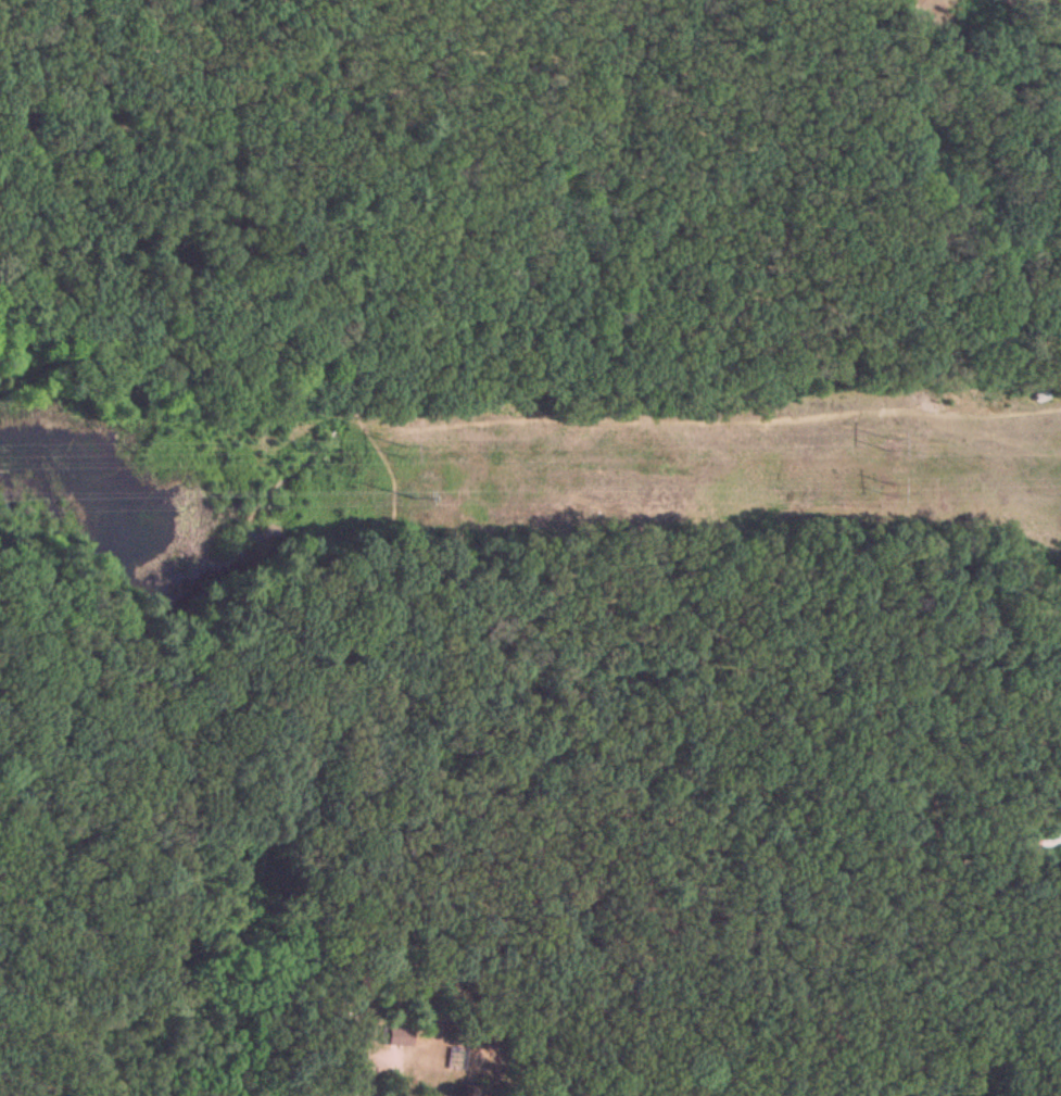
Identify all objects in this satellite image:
power tower: (889, 442)
power tower: (402, 448)
power tower: (889, 490)
power tower: (403, 494)
building: (1048, 835)
building: (394, 1034)

